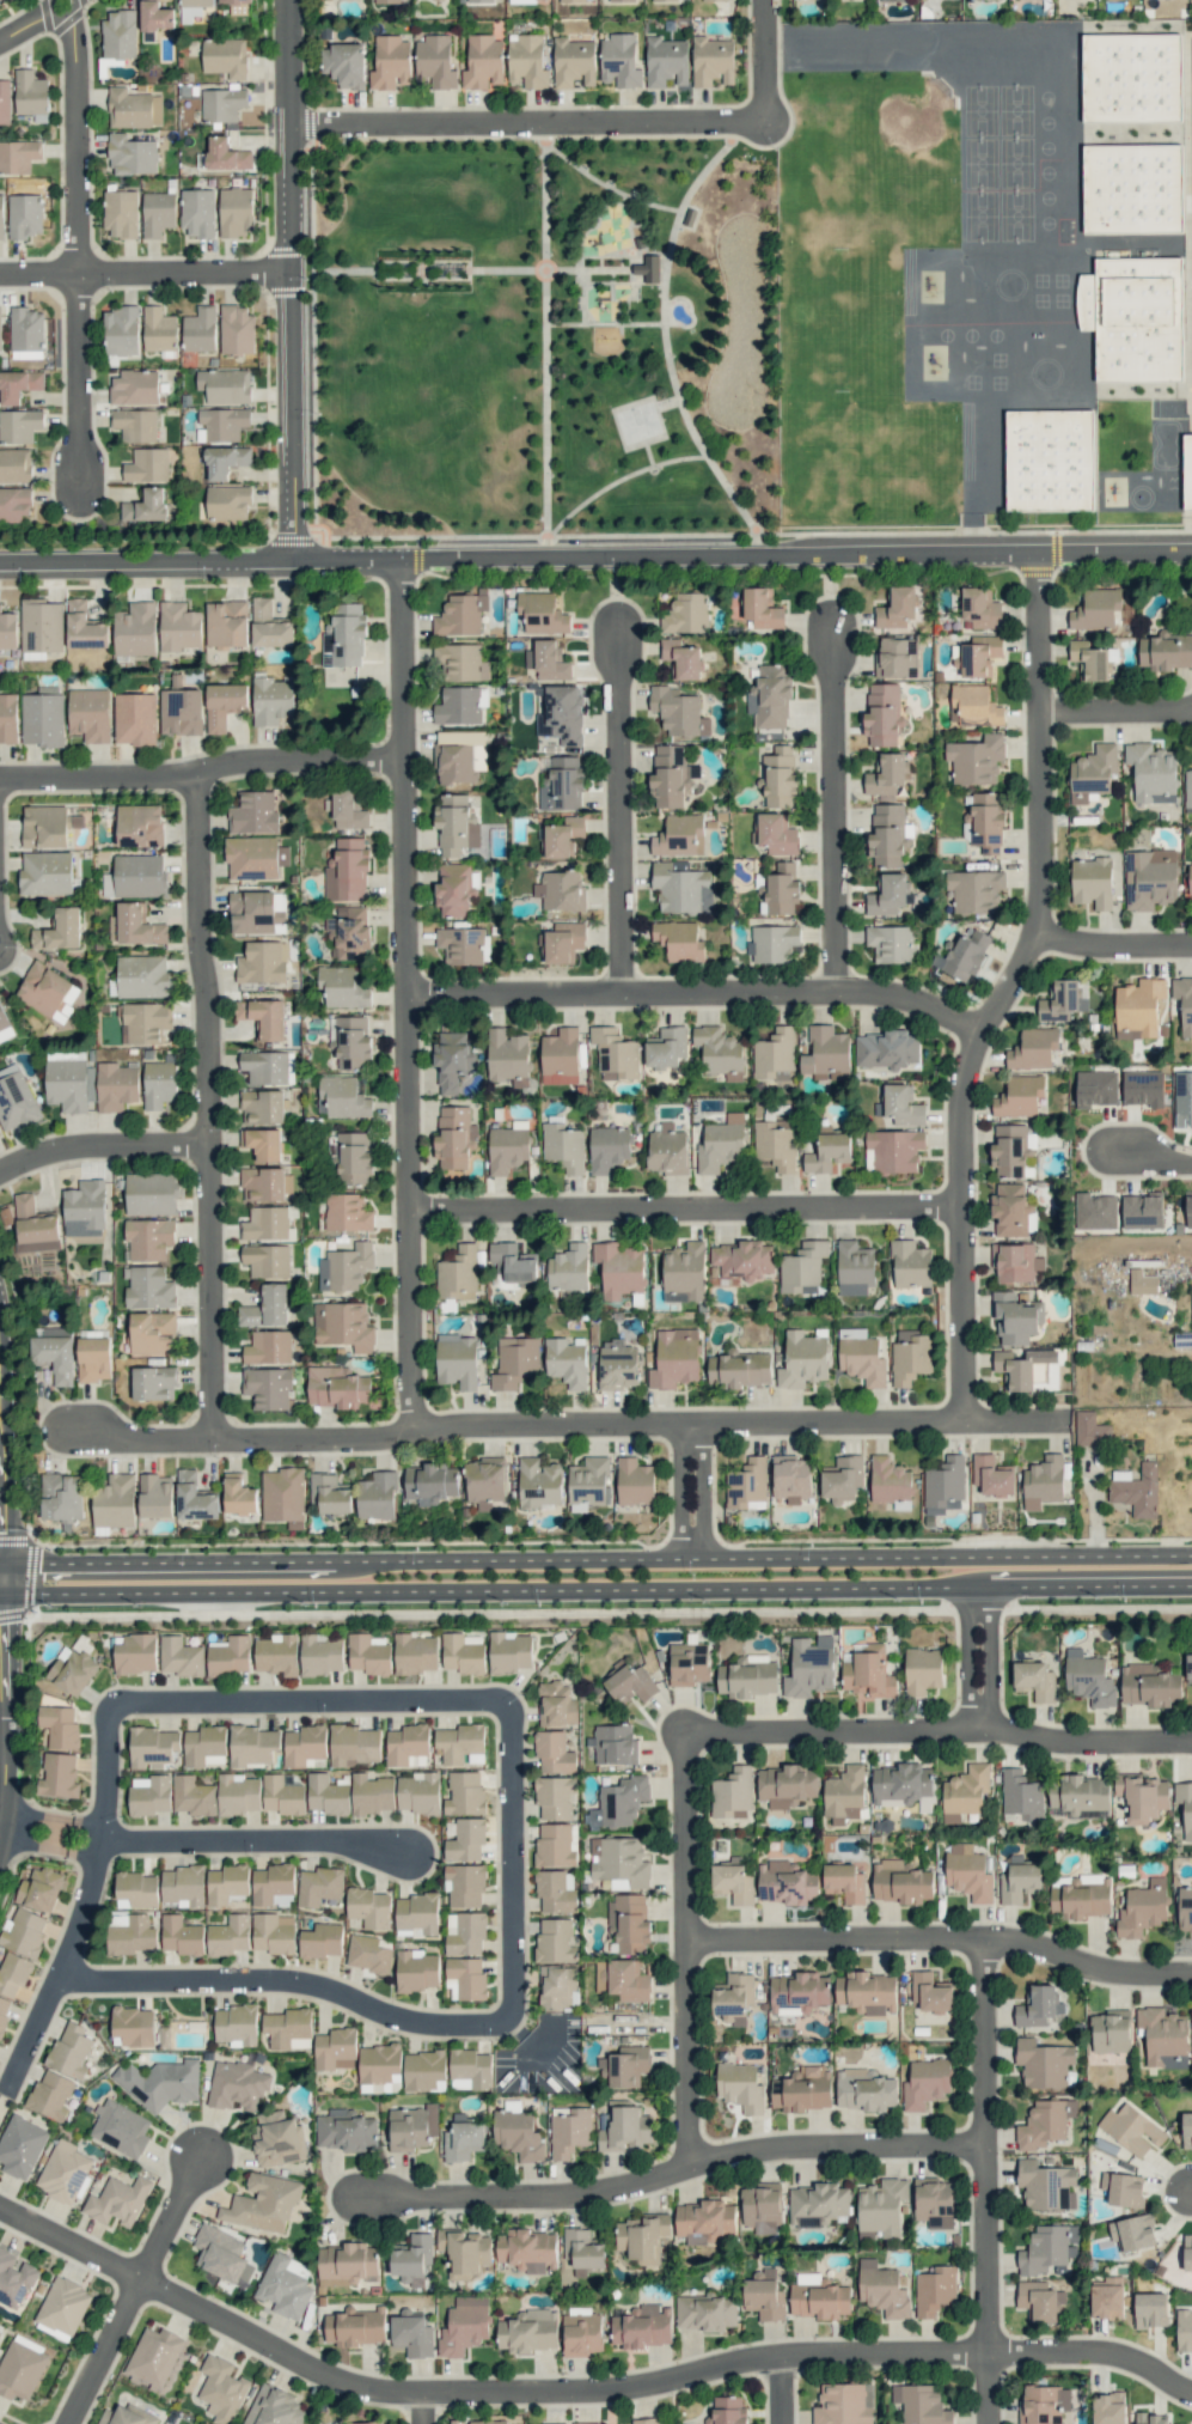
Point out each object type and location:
building: (483, 0)
building: (526, 0)
building: (575, 0)
building: (606, 0)
building: (667, 0)
building: (714, 0)
building: (2, 1)
building: (234, 1)
building: (392, 1)
building: (192, 8)
building: (155, 16)
road: (36, 22)
building: (118, 35)
building: (225, 57)
road: (772, 60)
building: (435, 61)
building: (526, 61)
building: (618, 61)
building: (666, 61)
building: (713, 61)
building: (390, 62)
building: (483, 62)
building: (573, 62)
building: (344, 65)
building: (1132, 78)
building: (30, 92)
building: (4, 103)
building: (222, 104)
building: (133, 108)
park: (979, 110)
park: (1014, 110)
road: (537, 121)
road: (85, 135)
road: (616, 135)
building: (132, 154)
building: (226, 154)
building: (18, 156)
park: (867, 160)
park: (979, 163)
park: (1015, 163)
road: (607, 187)
building: (1133, 188)
parking lot: (1190, 202)
building: (197, 212)
building: (236, 212)
building: (121, 213)
building: (158, 213)
building: (1, 215)
building: (25, 215)
park: (979, 215)
park: (1015, 215)
building: (690, 217)
building: (640, 243)
building: (648, 268)
road: (470, 270)
road: (149, 272)
road: (301, 280)
road: (664, 290)
road: (582, 297)
building: (1133, 317)
road: (604, 323)
building: (25, 329)
building: (158, 329)
building: (200, 329)
building: (237, 329)
building: (0, 330)
building: (121, 330)
park: (546, 336)
road: (311, 343)
building: (26, 354)
road: (86, 383)
building: (18, 385)
building: (224, 385)
building: (134, 388)
park: (637, 422)
building: (221, 424)
building: (19, 425)
building: (135, 425)
building: (225, 461)
building: (1049, 461)
building: (16, 465)
building: (147, 465)
building: (1187, 470)
road: (545, 473)
building: (227, 501)
building: (14, 504)
building: (146, 505)
road: (753, 534)
road: (595, 556)
building: (897, 608)
building: (980, 608)
building: (762, 609)
building: (1095, 609)
building: (542, 613)
building: (685, 614)
building: (460, 615)
building: (226, 623)
building: (41, 626)
building: (269, 626)
building: (84, 627)
building: (178, 627)
building: (135, 629)
building: (7, 631)
building: (344, 637)
building: (1166, 651)
building: (979, 656)
building: (895, 657)
building: (681, 658)
building: (1092, 659)
building: (548, 660)
building: (461, 662)
building: (770, 696)
building: (273, 700)
building: (224, 705)
building: (458, 706)
building: (973, 706)
building: (678, 711)
road: (1119, 711)
building: (181, 712)
building: (90, 714)
building: (562, 714)
building: (884, 714)
building: (134, 718)
building: (8, 719)
building: (43, 719)
building: (459, 756)
building: (976, 760)
road: (204, 769)
building: (1093, 772)
building: (1151, 773)
building: (886, 774)
building: (668, 776)
building: (780, 776)
building: (562, 785)
building: (1187, 788)
road: (838, 809)
building: (348, 810)
road: (624, 810)
building: (253, 812)
building: (984, 823)
building: (456, 824)
building: (44, 826)
building: (140, 826)
building: (777, 834)
building: (679, 835)
building: (887, 835)
building: (563, 836)
building: (255, 858)
building: (347, 871)
building: (45, 872)
building: (136, 877)
building: (1149, 878)
building: (1190, 879)
building: (1092, 882)
building: (681, 889)
building: (782, 889)
building: (456, 890)
building: (561, 890)
building: (976, 890)
building: (887, 894)
building: (257, 912)
building: (135, 925)
building: (60, 930)
building: (679, 940)
building: (562, 942)
building: (770, 942)
building: (891, 943)
building: (460, 945)
road: (1114, 945)
building: (964, 951)
building: (262, 962)
building: (142, 976)
building: (343, 987)
road: (1011, 988)
building: (48, 991)
road: (702, 992)
road: (411, 995)
building: (1184, 1001)
building: (1138, 1007)
building: (142, 1022)
building: (5, 1025)
building: (350, 1042)
building: (666, 1047)
building: (886, 1048)
building: (1033, 1048)
building: (772, 1050)
building: (560, 1052)
building: (719, 1052)
building: (825, 1052)
building: (615, 1053)
building: (508, 1058)
building: (453, 1060)
building: (267, 1067)
building: (560, 1079)
building: (158, 1083)
building: (67, 1084)
building: (116, 1086)
building: (1095, 1088)
building: (1142, 1088)
building: (1019, 1096)
building: (16, 1098)
building: (342, 1098)
building: (1182, 1098)
road: (214, 1104)
building: (900, 1104)
building: (263, 1107)
building: (454, 1137)
building: (262, 1143)
building: (721, 1144)
building: (776, 1144)
road: (104, 1145)
building: (507, 1146)
building: (563, 1146)
building: (607, 1149)
building: (667, 1150)
building: (893, 1150)
building: (1009, 1150)
building: (829, 1151)
building: (354, 1159)
road: (1150, 1159)
building: (267, 1183)
building: (151, 1193)
building: (84, 1208)
road: (690, 1208)
building: (1009, 1210)
building: (1142, 1210)
building: (1188, 1210)
building: (1094, 1211)
building: (347, 1212)
building: (267, 1224)
building: (33, 1226)
building: (148, 1238)
building: (744, 1259)
building: (267, 1260)
building: (512, 1262)
building: (1015, 1262)
building: (910, 1265)
building: (802, 1266)
building: (344, 1267)
building: (568, 1268)
building: (854, 1268)
building: (618, 1269)
building: (684, 1272)
building: (458, 1274)
building: (1142, 1283)
building: (148, 1287)
building: (267, 1307)
building: (1191, 1307)
building: (1016, 1317)
building: (343, 1326)
building: (152, 1333)
building: (1182, 1340)
building: (268, 1347)
building: (55, 1353)
building: (861, 1357)
building: (910, 1357)
building: (93, 1358)
building: (674, 1358)
building: (457, 1360)
building: (802, 1360)
building: (514, 1362)
building: (566, 1362)
building: (617, 1365)
building: (1026, 1368)
building: (739, 1369)
building: (153, 1383)
building: (267, 1388)
building: (337, 1388)
road: (648, 1424)
building: (1090, 1429)
road: (145, 1441)
building: (992, 1475)
building: (791, 1478)
building: (484, 1481)
building: (634, 1481)
building: (1043, 1481)
building: (430, 1482)
building: (539, 1482)
building: (746, 1482)
building: (890, 1482)
building: (945, 1486)
building: (1135, 1490)
road: (695, 1491)
building: (329, 1493)
building: (155, 1494)
building: (238, 1494)
building: (282, 1494)
building: (377, 1496)
building: (62, 1498)
building: (194, 1498)
building: (114, 1500)
road: (595, 1559)
road: (4, 1570)
road: (595, 1589)
building: (509, 1652)
building: (135, 1653)
building: (276, 1653)
building: (320, 1653)
building: (415, 1653)
building: (368, 1655)
building: (461, 1655)
building: (181, 1656)
building: (228, 1656)
road: (983, 1658)
building: (689, 1663)
building: (811, 1665)
building: (1188, 1665)
building: (72, 1670)
building: (922, 1670)
building: (868, 1671)
building: (748, 1677)
building: (1088, 1677)
building: (1034, 1680)
building: (630, 1683)
building: (1149, 1686)
road: (317, 1703)
building: (556, 1705)
road: (2, 1726)
building: (60, 1726)
road: (839, 1731)
road: (1089, 1741)
building: (406, 1743)
building: (460, 1743)
building: (153, 1744)
building: (252, 1744)
building: (304, 1744)
building: (354, 1744)
building: (615, 1744)
building: (204, 1746)
building: (554, 1752)
building: (59, 1776)
building: (787, 1785)
building: (903, 1786)
building: (965, 1791)
building: (418, 1792)
building: (372, 1793)
building: (464, 1793)
building: (732, 1793)
building: (844, 1793)
building: (1080, 1793)
building: (148, 1795)
building: (238, 1795)
building: (282, 1795)
building: (328, 1795)
building: (1021, 1795)
building: (192, 1796)
building: (554, 1796)
building: (1142, 1797)
building: (619, 1802)
building: (1185, 1805)
road: (57, 1834)
road: (261, 1837)
building: (466, 1840)
building: (554, 1846)
building: (619, 1860)
road: (516, 1866)
building: (967, 1872)
building: (271, 1882)
building: (844, 1882)
building: (900, 1882)
building: (1019, 1882)
building: (226, 1883)
building: (733, 1883)
building: (786, 1883)
building: (183, 1884)
building: (464, 1884)
building: (319, 1886)
building: (137, 1888)
building: (39, 1889)
building: (554, 1892)
building: (1082, 1898)
building: (368, 1907)
road: (94, 1908)
building: (1142, 1908)
building: (1185, 1908)
building: (416, 1913)
building: (629, 1923)
building: (24, 1932)
building: (274, 1933)
building: (465, 1933)
building: (130, 1935)
building: (228, 1935)
building: (182, 1936)
road: (943, 1937)
building: (322, 1941)
building: (555, 1941)
road: (691, 1949)
building: (368, 1954)
building: (416, 1971)
building: (13, 1974)
building: (465, 1978)
building: (623, 1980)
building: (558, 1986)
road: (330, 1990)
building: (799, 1992)
building: (867, 1992)
building: (930, 1992)
building: (733, 1998)
building: (1035, 2005)
building: (4, 2014)
building: (236, 2024)
building: (133, 2026)
building: (288, 2028)
building: (1111, 2032)
building: (1163, 2038)
building: (335, 2048)
building: (71, 2050)
building: (379, 2063)
building: (1043, 2063)
building: (625, 2065)
building: (470, 2070)
building: (424, 2071)
building: (160, 2083)
building: (925, 2083)
building: (237, 2085)
building: (740, 2087)
building: (802, 2089)
building: (864, 2090)
building: (50, 2095)
building: (1045, 2122)
building: (120, 2127)
building: (412, 2127)
building: (1131, 2128)
building: (625, 2130)
building: (1186, 2130)
building: (347, 2131)
building: (569, 2131)
building: (518, 2134)
building: (277, 2138)
building: (463, 2138)
road: (839, 2145)
building: (20, 2146)
building: (65, 2173)
road: (990, 2180)
building: (1046, 2185)
building: (1123, 2188)
road: (526, 2195)
building: (117, 2200)
building: (934, 2201)
building: (262, 2204)
building: (817, 2204)
building: (762, 2207)
road: (170, 2215)
building: (704, 2222)
building: (1132, 2231)
building: (641, 2237)
building: (1046, 2248)
building: (527, 2251)
building: (582, 2251)
building: (465, 2252)
building: (1187, 2253)
building: (221, 2254)
building: (411, 2258)
building: (347, 2264)
building: (285, 2285)
building: (884, 2289)
building: (935, 2290)
building: (764, 2295)
building: (818, 2297)
building: (1107, 2298)
building: (1040, 2301)
building: (63, 2306)
building: (1150, 2309)
building: (705, 2312)
building: (464, 2326)
building: (355, 2327)
building: (642, 2327)
building: (528, 2331)
building: (1184, 2331)
building: (0, 2332)
building: (582, 2333)
building: (411, 2334)
road: (103, 2350)
building: (154, 2356)
building: (20, 2370)
building: (221, 2388)
road: (581, 2389)
road: (784, 2389)
building: (844, 2404)
building: (921, 2404)
building: (1044, 2404)
building: (274, 2407)
road: (422, 2407)
building: (1108, 2408)
building: (126, 2416)
building: (1151, 2418)
building: (644, 2420)
building: (478, 2422)
building: (365, 2423)

